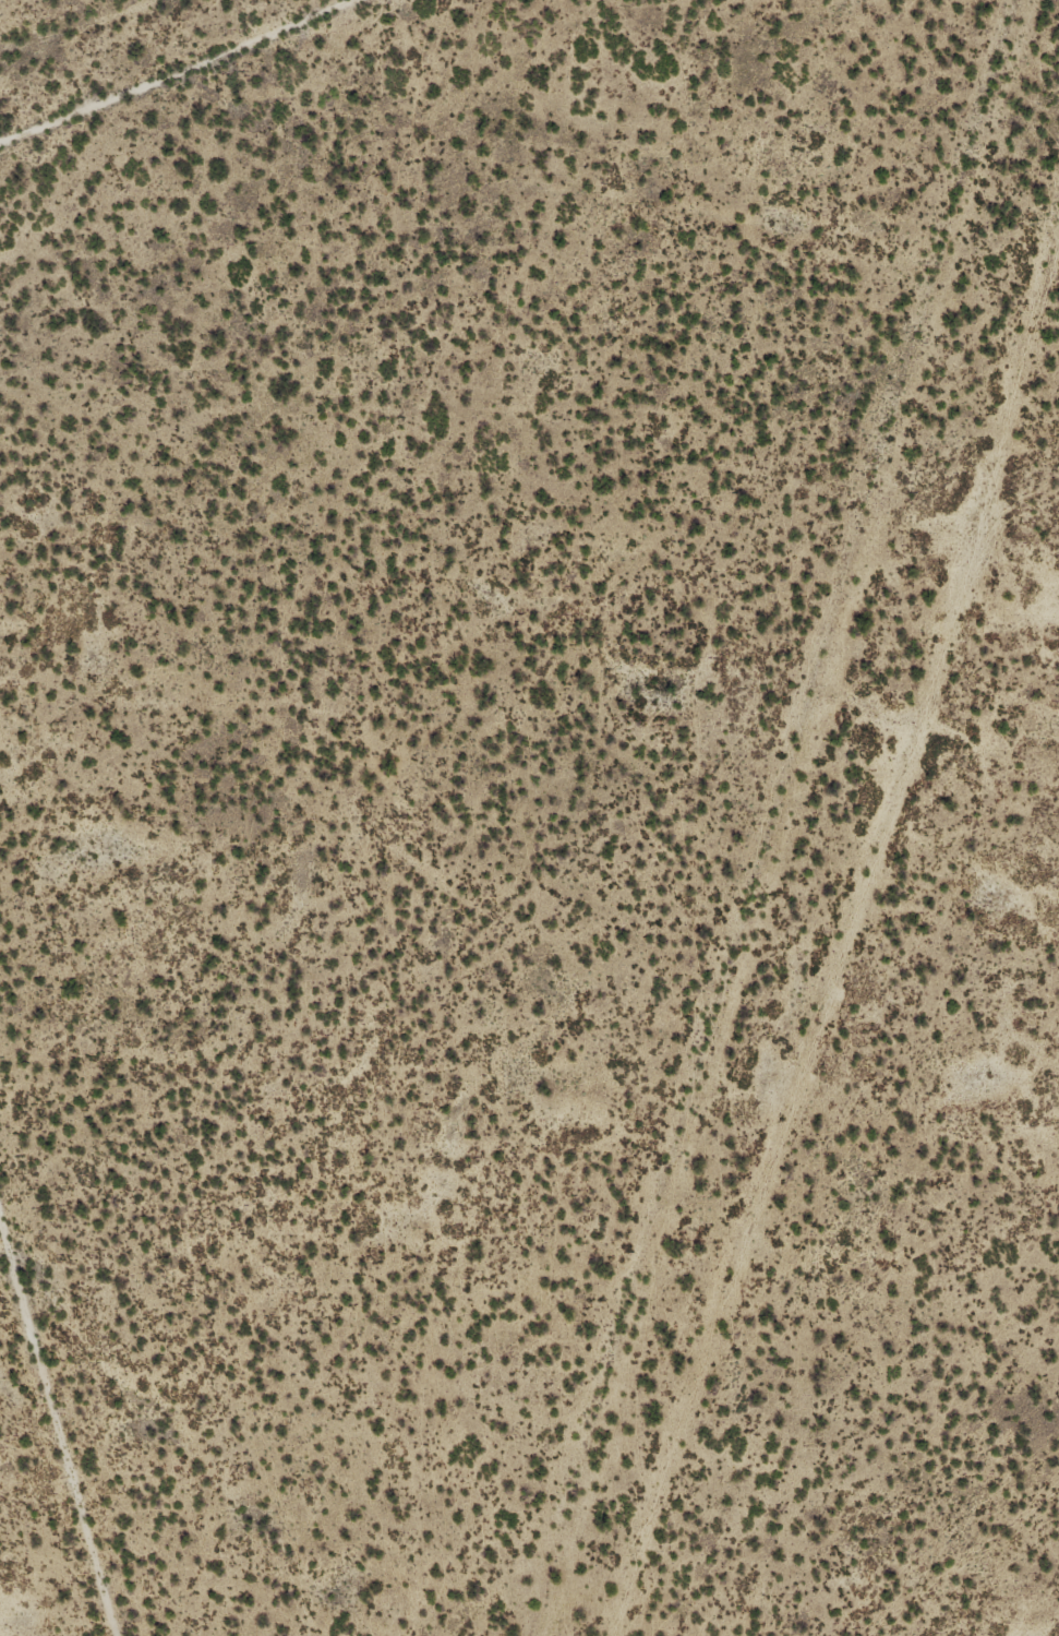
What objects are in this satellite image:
road: (56, 1430)

